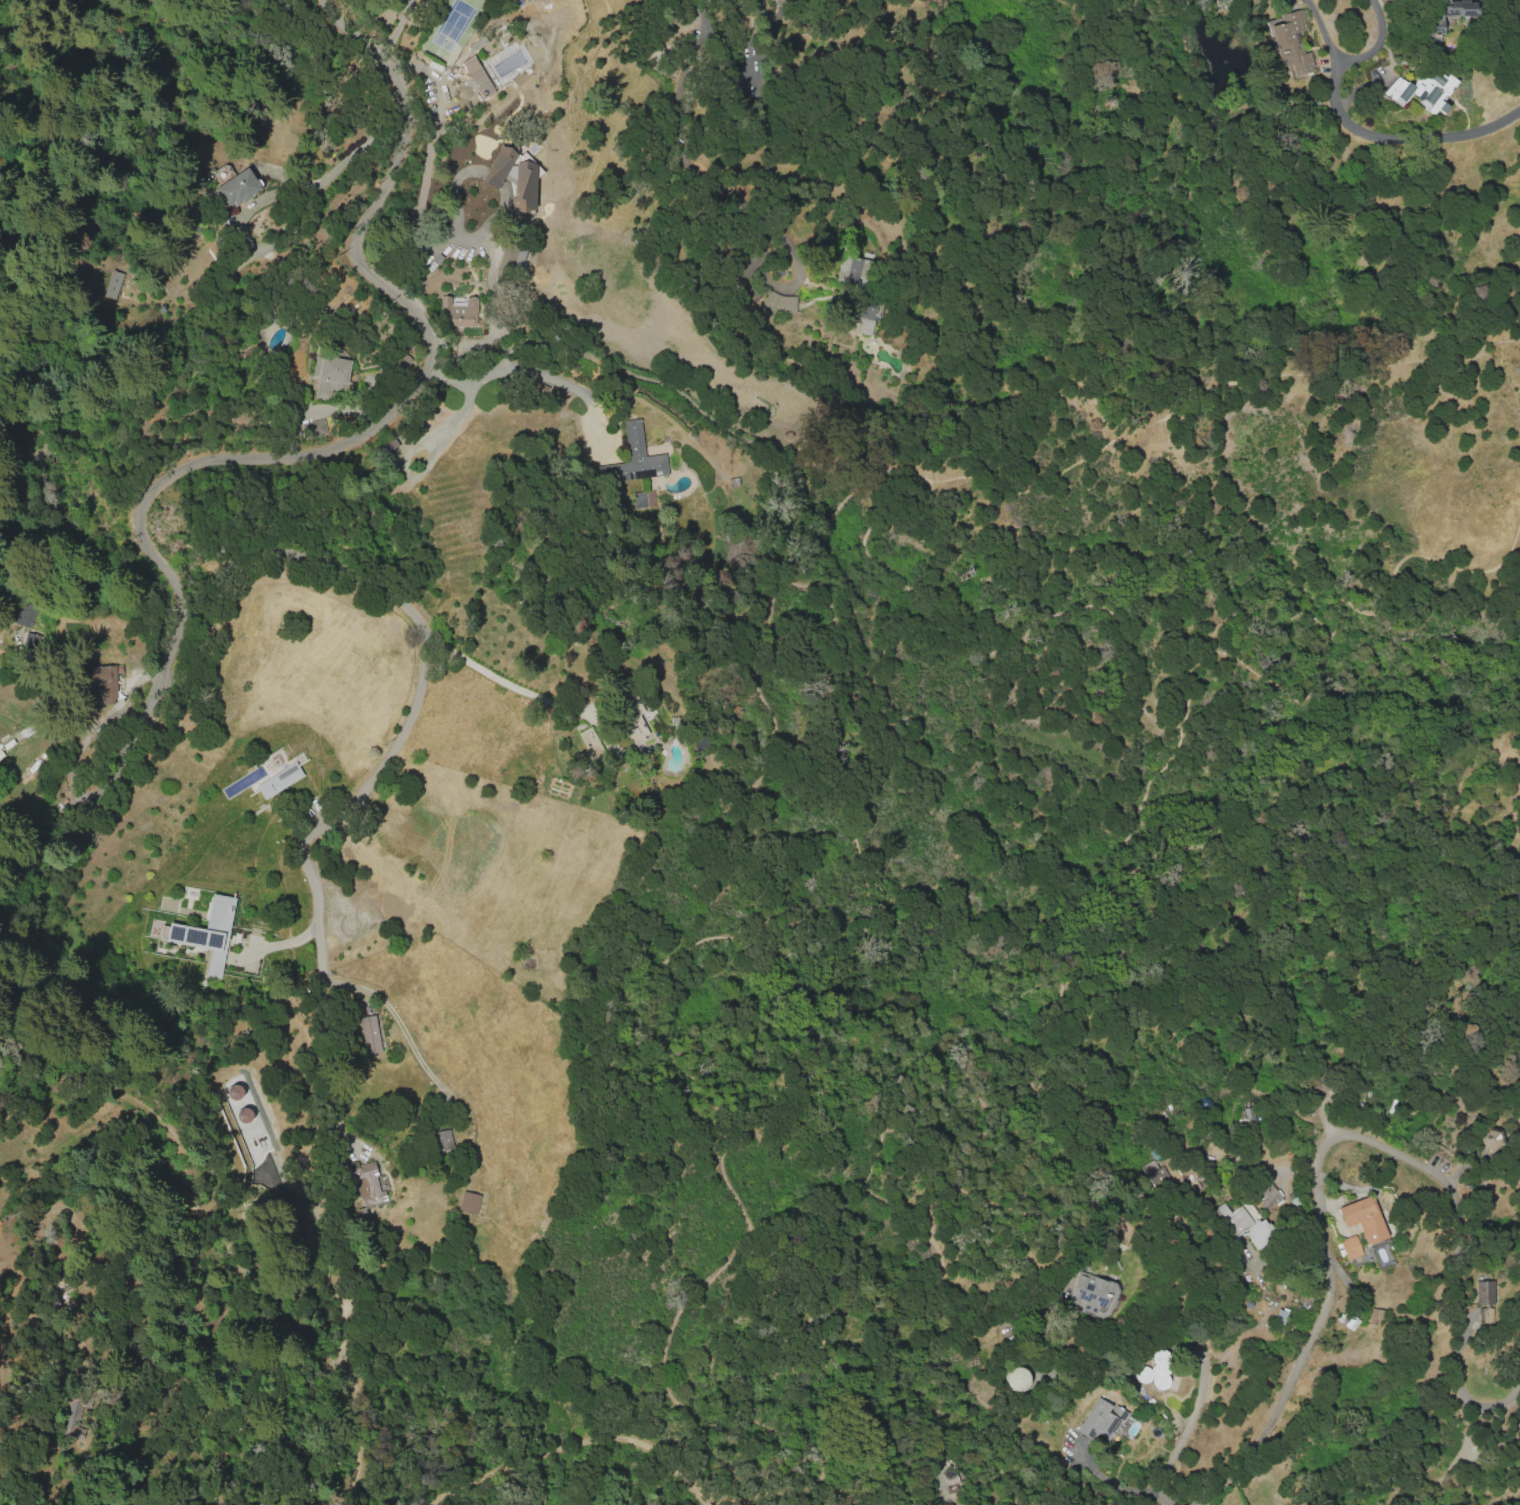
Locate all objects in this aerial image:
building: (1434, 27)
building: (1291, 44)
road: (1355, 61)
building: (484, 88)
building: (1422, 89)
road: (1405, 142)
road: (682, 148)
building: (513, 176)
building: (236, 188)
road: (268, 198)
road: (443, 246)
building: (508, 257)
building: (848, 270)
building: (113, 284)
building: (780, 302)
building: (458, 312)
building: (865, 317)
building: (329, 375)
road: (517, 377)
building: (388, 446)
road: (309, 456)
building: (634, 458)
building: (639, 499)
road: (835, 506)
road: (263, 558)
building: (30, 643)
road: (500, 683)
road: (421, 694)
road: (1176, 728)
building: (590, 742)
building: (269, 765)
building: (279, 780)
building: (418, 833)
building: (206, 928)
road: (323, 928)
building: (537, 959)
building: (211, 973)
road: (676, 1021)
road: (395, 1023)
road: (1213, 1063)
building: (1254, 1119)
building: (441, 1140)
building: (1489, 1140)
building: (1155, 1173)
building: (368, 1181)
road: (847, 1199)
building: (468, 1203)
building: (1363, 1218)
building: (1245, 1225)
building: (1350, 1246)
road: (1458, 1271)
building: (1484, 1292)
building: (1093, 1293)
road: (1323, 1298)
building: (1485, 1313)
building: (1156, 1371)
building: (1017, 1378)
road: (1503, 1405)
building: (1101, 1419)
road: (1191, 1421)
road: (1450, 1456)
road: (1111, 1481)

